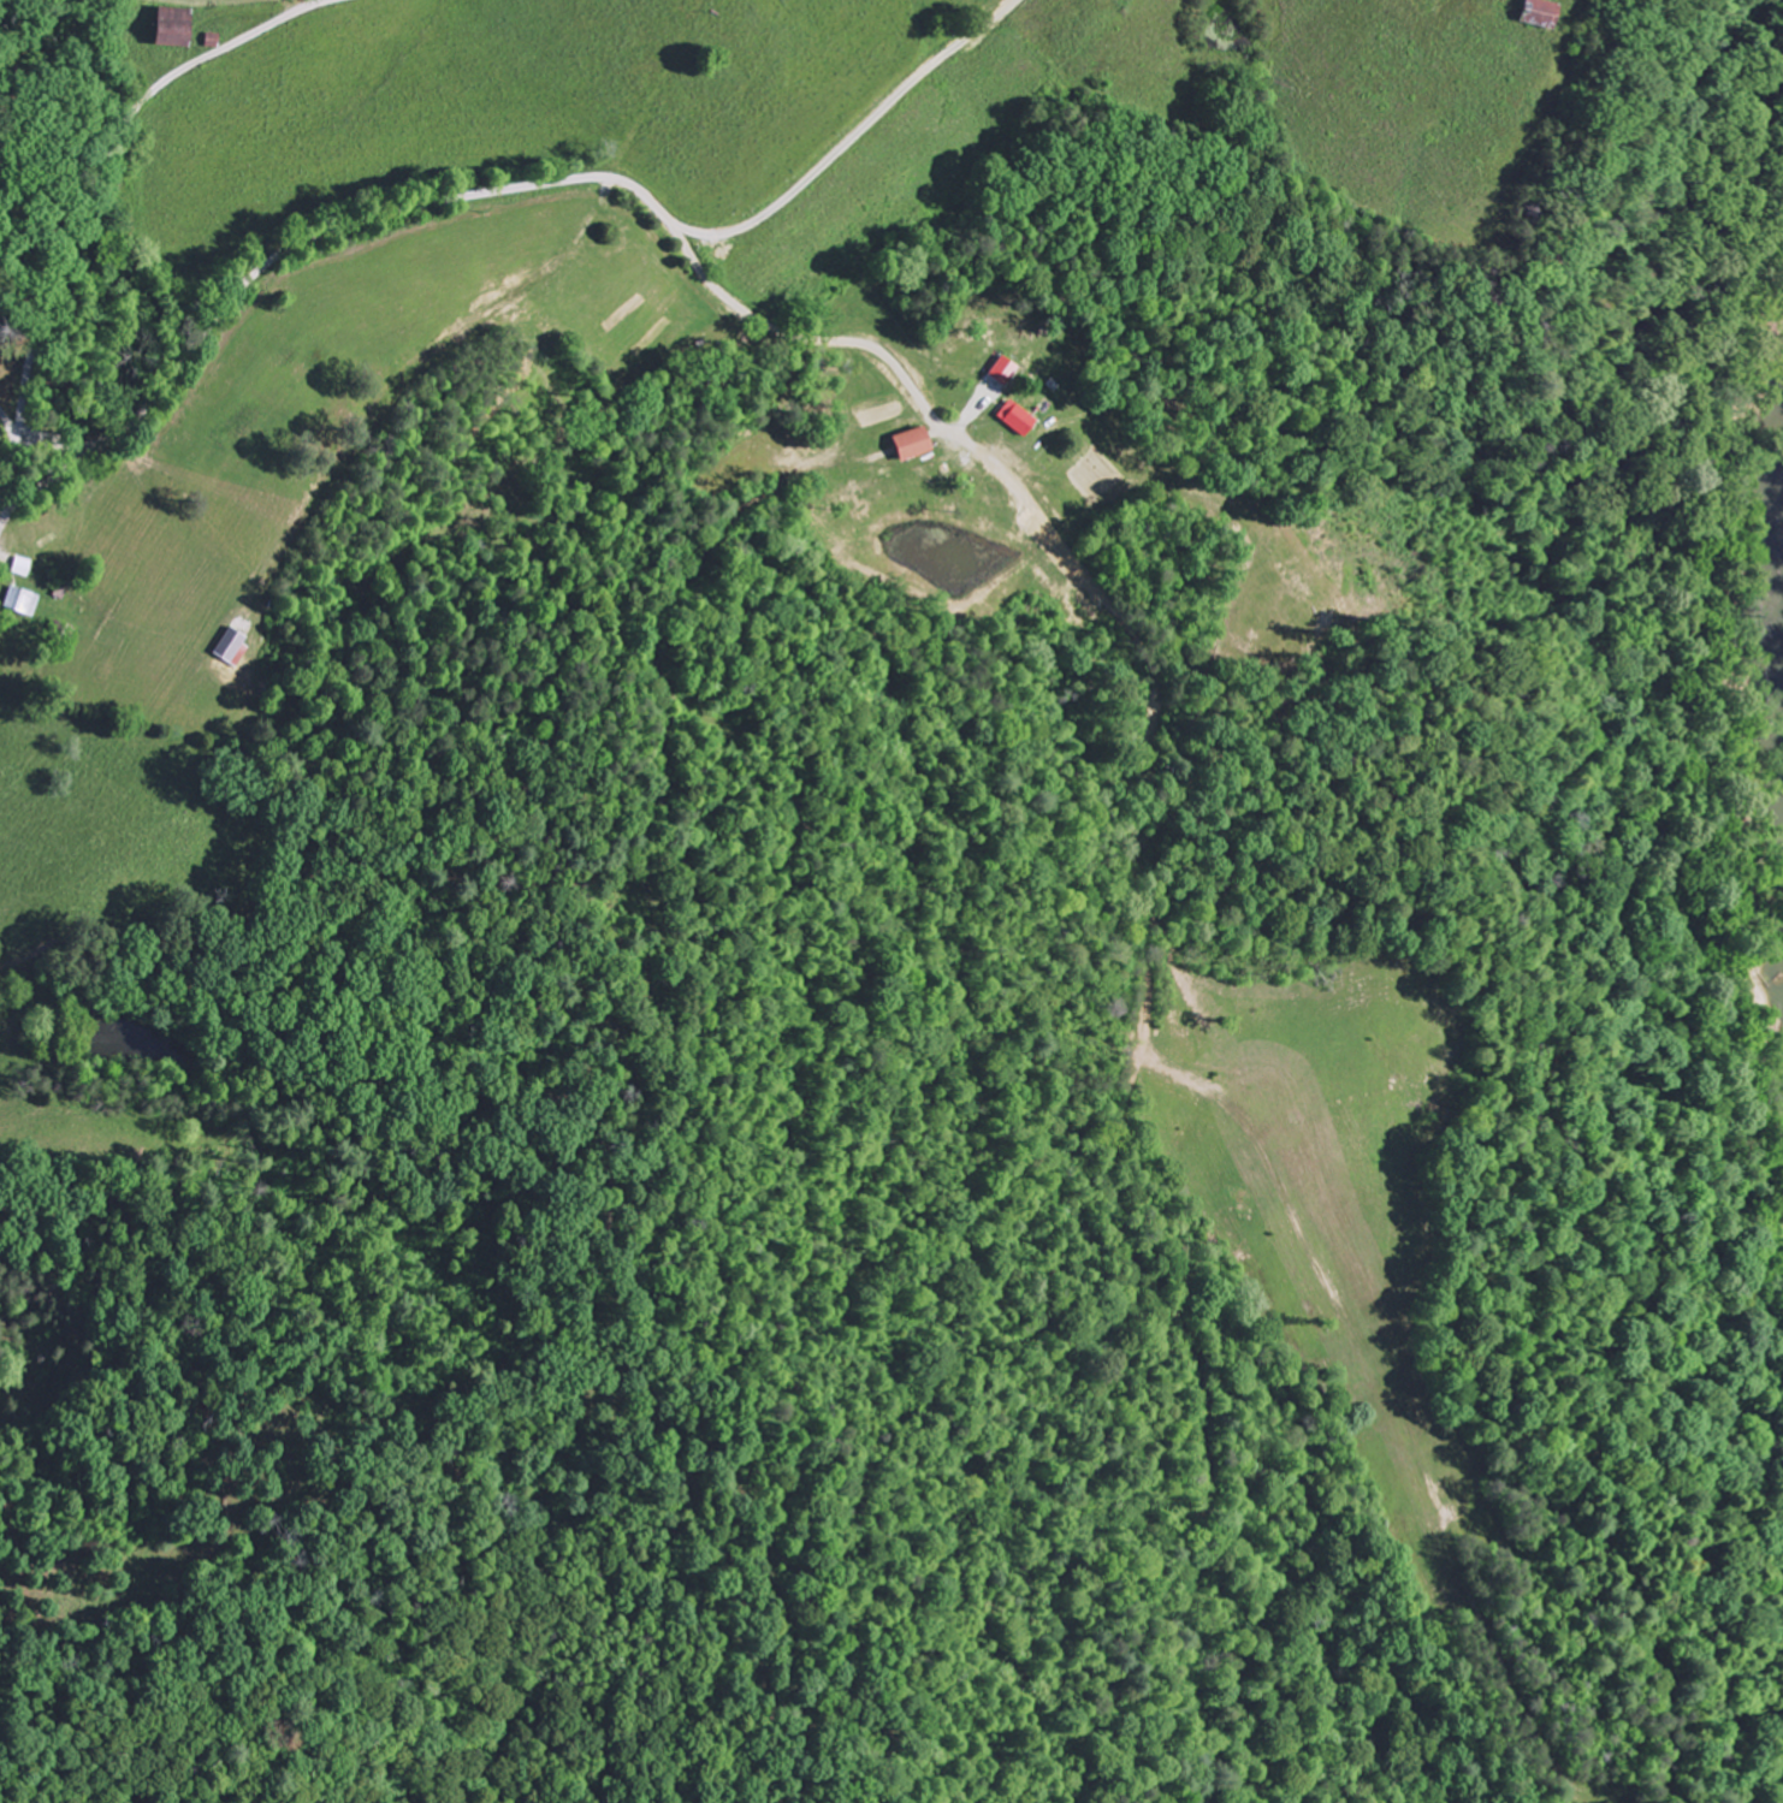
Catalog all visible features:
building: (1542, 13)
building: (177, 28)
road: (881, 147)
road: (468, 195)
road: (90, 198)
building: (1005, 372)
road: (10, 419)
building: (1019, 419)
road: (45, 444)
building: (917, 444)
road: (1026, 553)
building: (24, 568)
building: (24, 601)
building: (235, 647)

